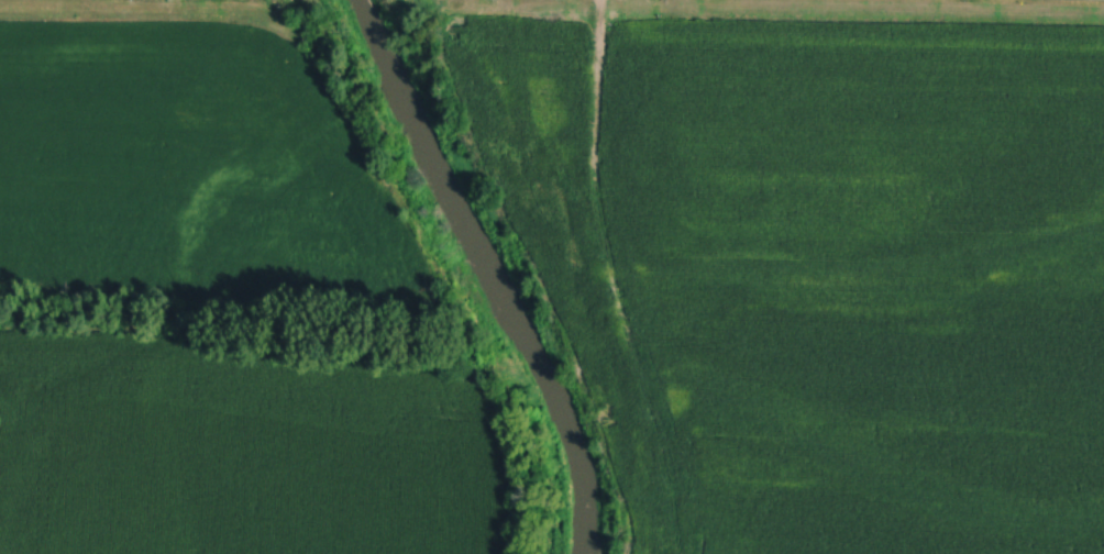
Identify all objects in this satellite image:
river: (492, 267)
building: (40, 483)

